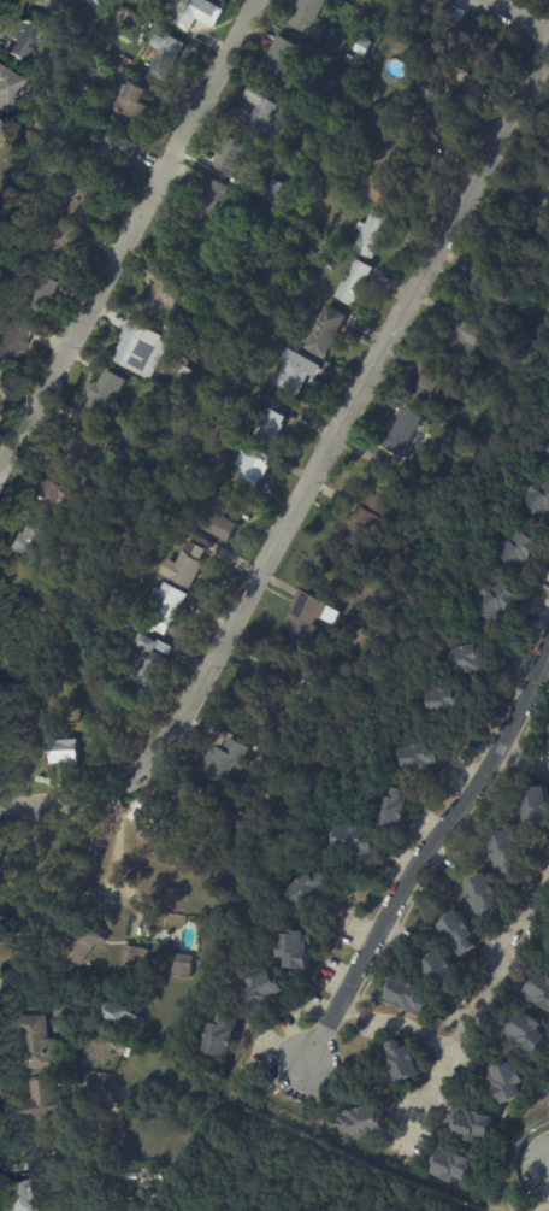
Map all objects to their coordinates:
building: (95, 2)
building: (58, 5)
building: (199, 13)
building: (457, 14)
building: (312, 17)
road: (518, 17)
building: (20, 37)
building: (480, 43)
building: (366, 47)
building: (167, 55)
building: (353, 59)
building: (282, 60)
building: (471, 81)
building: (10, 87)
building: (84, 89)
building: (437, 100)
building: (140, 106)
building: (265, 112)
building: (4, 131)
building: (437, 134)
building: (118, 152)
building: (235, 155)
building: (57, 159)
building: (282, 171)
building: (390, 184)
building: (281, 193)
building: (527, 196)
building: (91, 200)
building: (212, 201)
building: (11, 228)
road: (128, 234)
building: (376, 234)
building: (497, 236)
building: (61, 240)
building: (358, 283)
building: (480, 287)
building: (166, 294)
building: (39, 298)
building: (190, 305)
building: (449, 314)
building: (492, 317)
building: (330, 333)
building: (466, 336)
building: (16, 341)
building: (197, 345)
building: (502, 346)
building: (141, 347)
building: (219, 349)
building: (300, 372)
building: (0, 375)
building: (187, 375)
building: (426, 384)
building: (108, 394)
building: (260, 398)
building: (273, 419)
building: (163, 424)
building: (405, 431)
building: (89, 435)
building: (237, 436)
building: (256, 470)
road: (314, 477)
building: (64, 490)
building: (542, 500)
building: (224, 521)
building: (364, 524)
building: (118, 535)
building: (36, 539)
building: (524, 552)
building: (191, 566)
building: (498, 601)
building: (171, 611)
building: (307, 616)
building: (140, 627)
building: (302, 656)
building: (154, 662)
building: (468, 662)
building: (282, 671)
building: (306, 692)
building: (448, 704)
building: (547, 734)
building: (70, 753)
building: (8, 754)
building: (108, 756)
building: (423, 760)
building: (226, 762)
road: (524, 766)
building: (189, 806)
building: (279, 811)
building: (539, 811)
building: (399, 812)
road: (119, 837)
building: (359, 845)
road: (423, 853)
building: (509, 853)
building: (314, 893)
building: (488, 897)
building: (250, 898)
building: (460, 934)
building: (84, 947)
building: (303, 948)
building: (136, 958)
building: (184, 966)
building: (447, 974)
road: (12, 988)
building: (267, 990)
building: (539, 992)
building: (412, 998)
building: (122, 1016)
road: (477, 1016)
road: (401, 1027)
building: (531, 1034)
building: (170, 1035)
building: (225, 1037)
building: (39, 1044)
building: (118, 1046)
building: (131, 1052)
building: (406, 1063)
building: (513, 1080)
building: (45, 1101)
building: (371, 1123)
building: (477, 1129)
building: (57, 1163)
park: (319, 1168)
building: (460, 1168)
building: (153, 1172)
building: (19, 1195)
road: (542, 1203)

